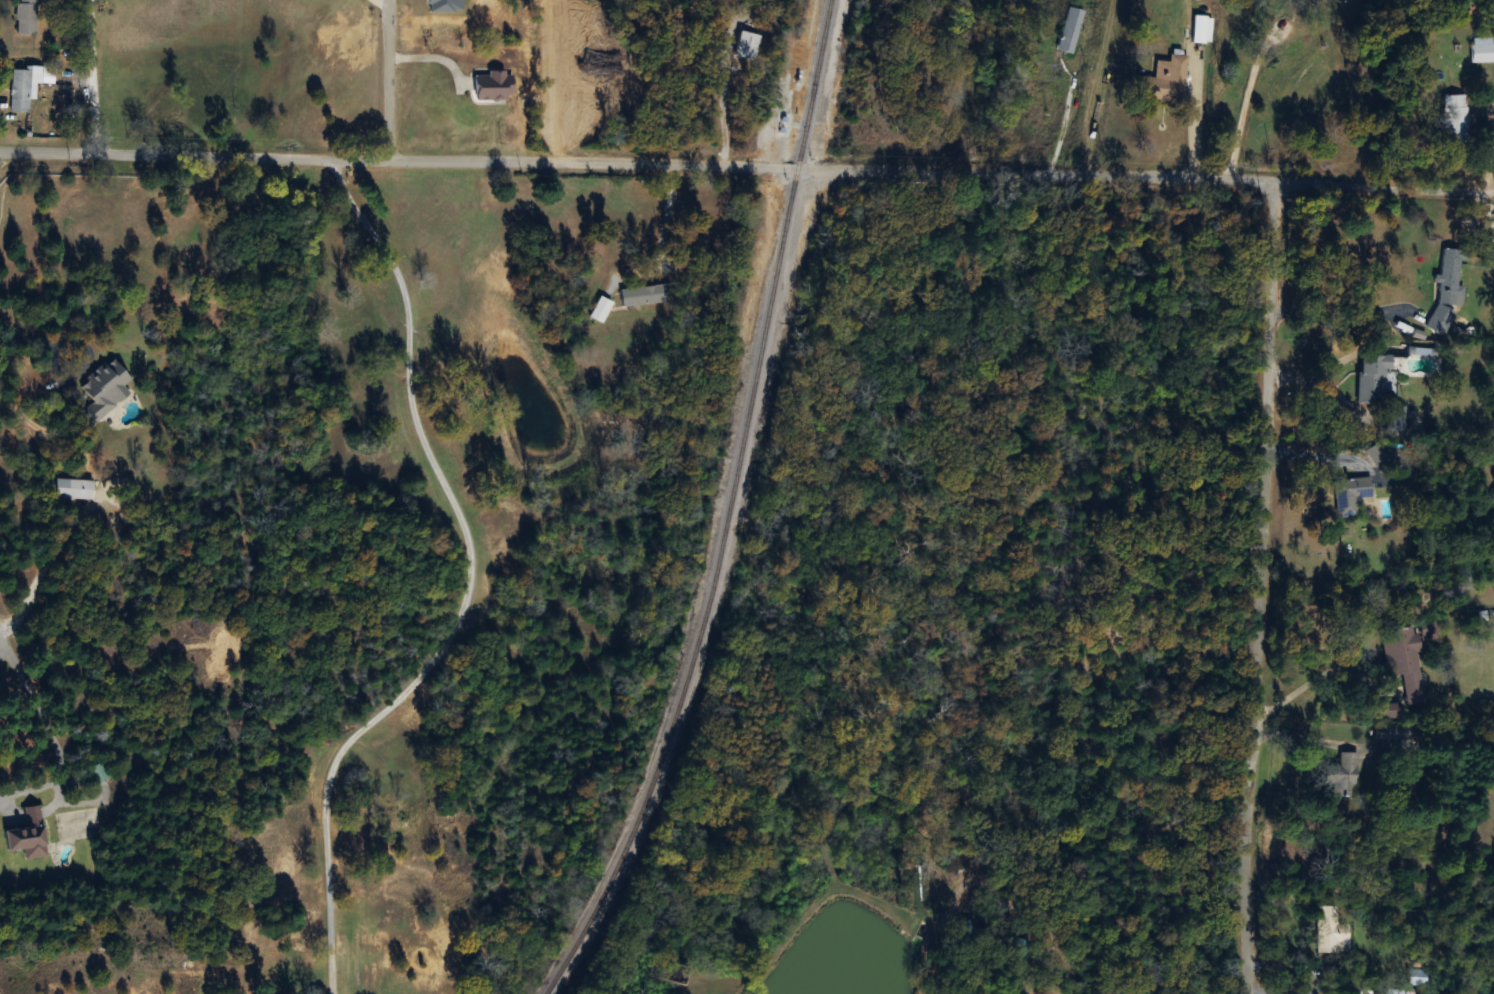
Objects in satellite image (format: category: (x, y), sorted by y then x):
building: (26, 16)
building: (1070, 29)
building: (1202, 29)
building: (748, 45)
building: (1481, 50)
road: (436, 57)
road: (89, 78)
road: (389, 81)
building: (1163, 81)
building: (27, 85)
building: (493, 85)
road: (1244, 98)
road: (722, 110)
building: (1453, 117)
road: (1061, 124)
road: (1191, 131)
road: (747, 166)
road: (666, 218)
building: (1449, 278)
building: (644, 295)
road: (1335, 311)
building: (1436, 324)
road: (29, 334)
road: (76, 372)
road: (1315, 376)
building: (1375, 379)
building: (105, 385)
building: (1394, 418)
building: (1374, 454)
building: (73, 488)
building: (1351, 494)
railway: (733, 510)
road: (1260, 587)
road: (472, 588)
building: (1428, 631)
building: (1404, 661)
road: (1306, 685)
building: (1389, 711)
building: (1392, 732)
road: (52, 738)
road: (1313, 739)
building: (99, 773)
building: (1347, 776)
building: (27, 832)
building: (1334, 930)
road: (1156, 960)
building: (1420, 977)
building: (1392, 991)

